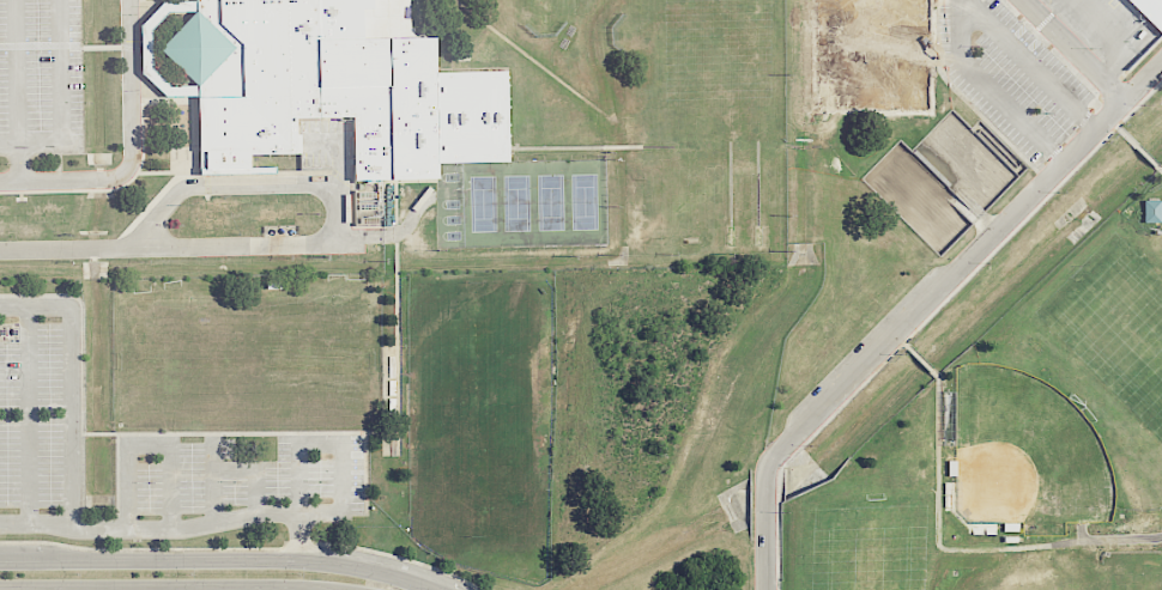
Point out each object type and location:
park: (836, 0)
park: (871, 1)
park: (904, 1)
building: (1149, 11)
road: (1116, 37)
road: (1075, 50)
parking lot: (1037, 62)
road: (1031, 63)
park: (872, 66)
park: (837, 67)
park: (904, 67)
road: (16, 90)
road: (992, 90)
road: (59, 91)
building: (328, 92)
road: (8, 141)
road: (131, 150)
road: (337, 199)
park: (550, 201)
park: (583, 201)
park: (518, 202)
park: (483, 203)
building: (272, 212)
building: (207, 218)
road: (68, 248)
road: (919, 308)
park: (1115, 326)
building: (8, 332)
road: (28, 414)
road: (319, 442)
road: (147, 443)
park: (1028, 451)
parking lot: (145, 452)
road: (255, 469)
road: (213, 480)
road: (72, 515)
road: (36, 523)
road: (298, 535)
park: (866, 558)
road: (218, 560)
park: (1131, 570)
road: (173, 586)

